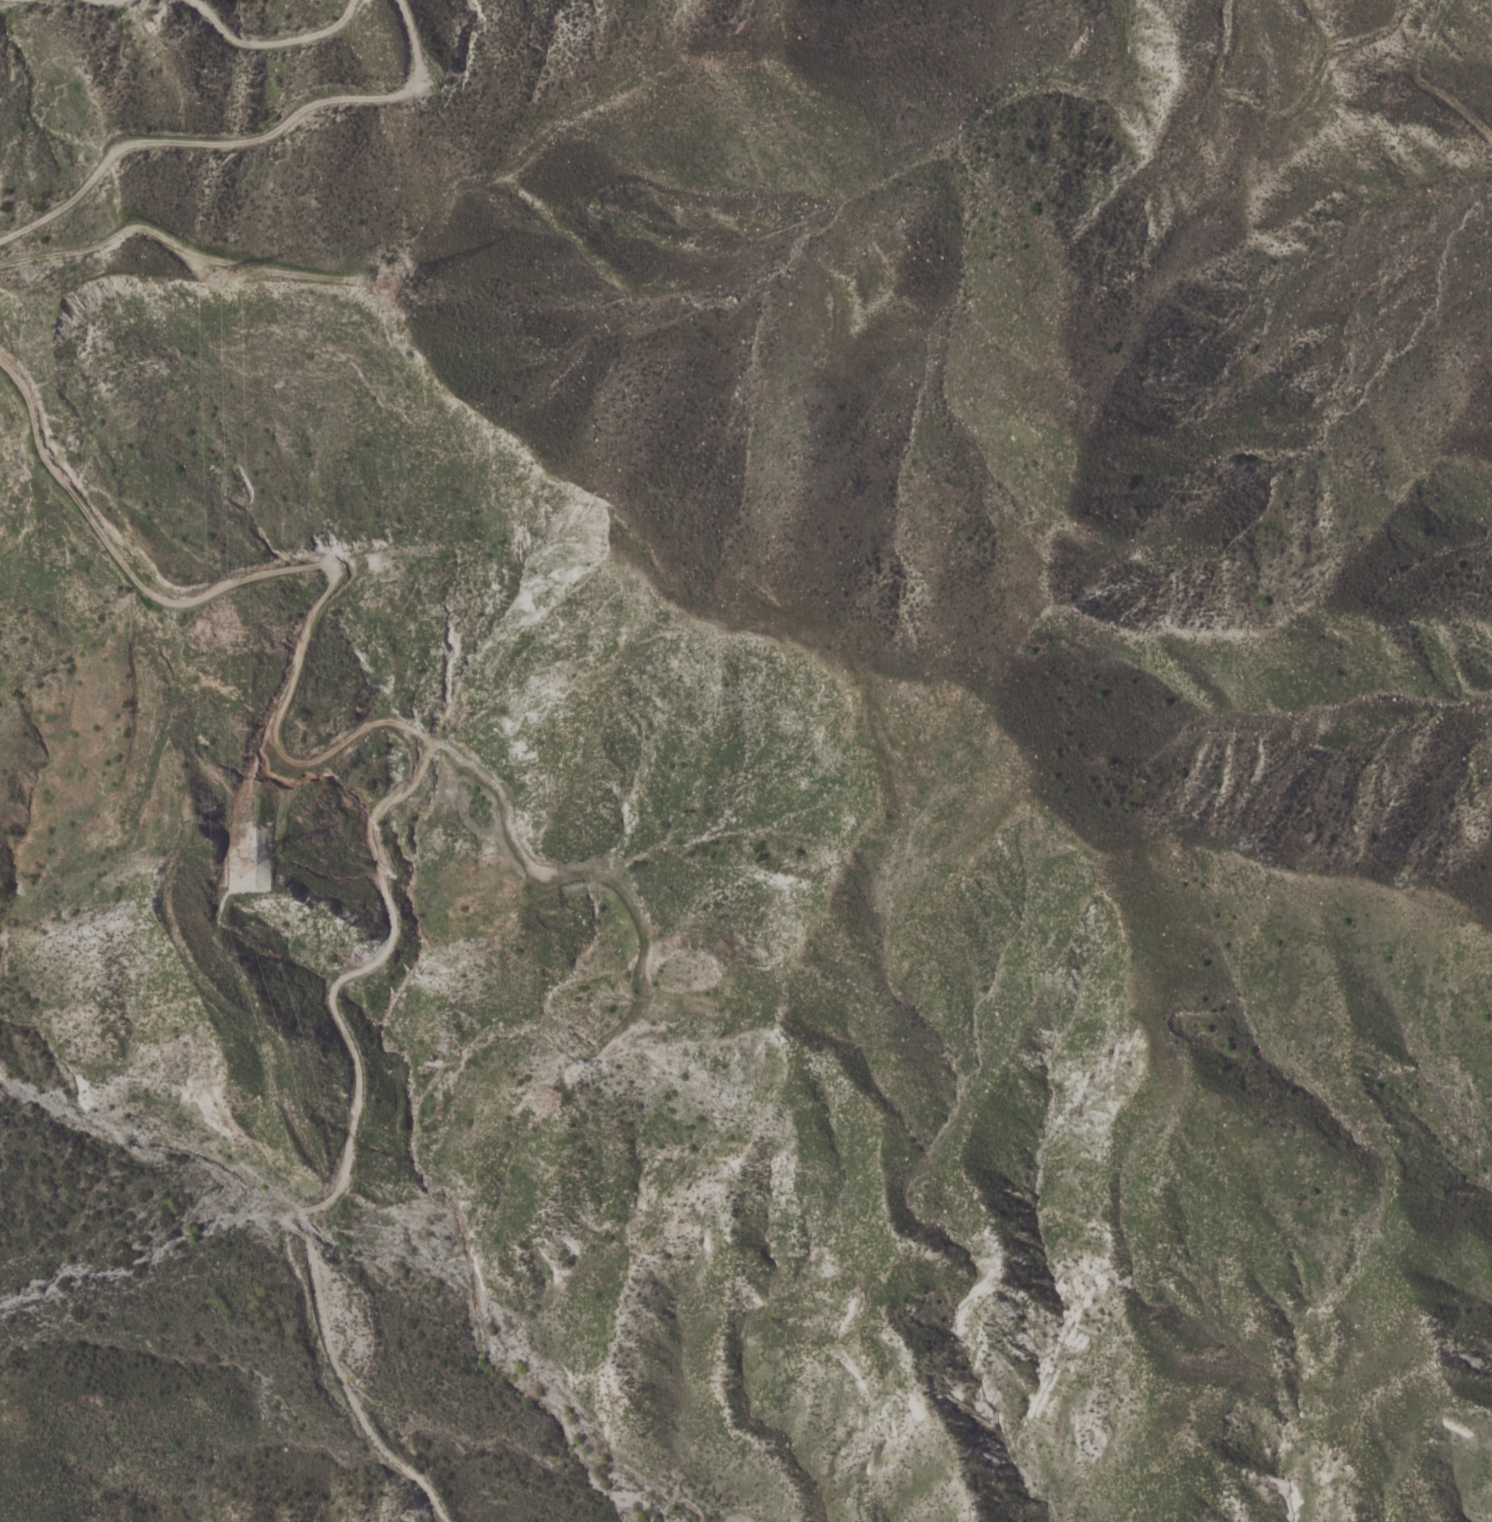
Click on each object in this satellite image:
road: (116, 0)
road: (274, 43)
road: (241, 143)
road: (186, 245)
power tower: (393, 277)
power tower: (218, 287)
road: (415, 783)
power tower: (243, 860)
road: (579, 872)
power tower: (562, 1087)

